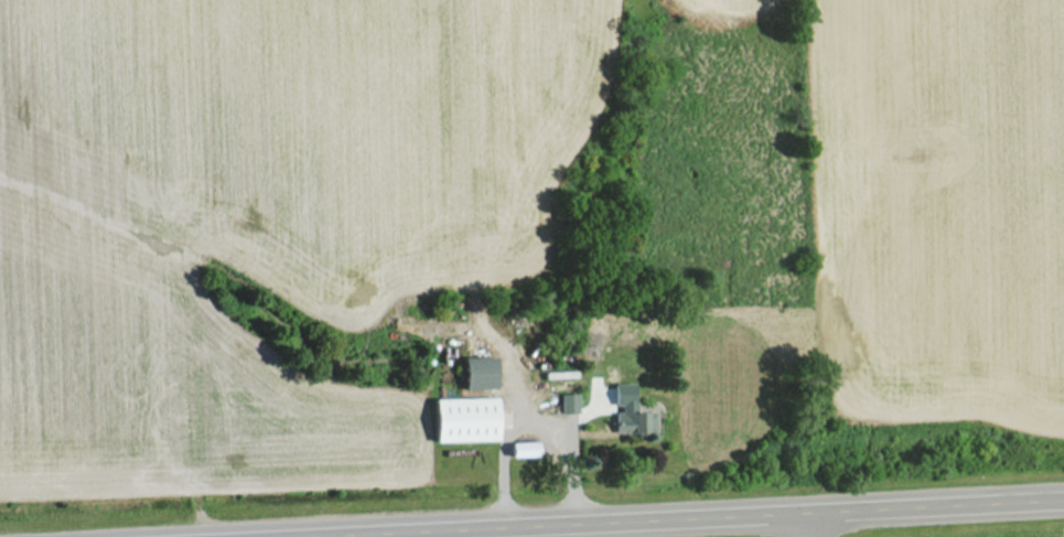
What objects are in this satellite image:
building: (482, 373)
building: (567, 404)
building: (628, 414)
building: (469, 420)
road: (606, 515)
road: (803, 523)

